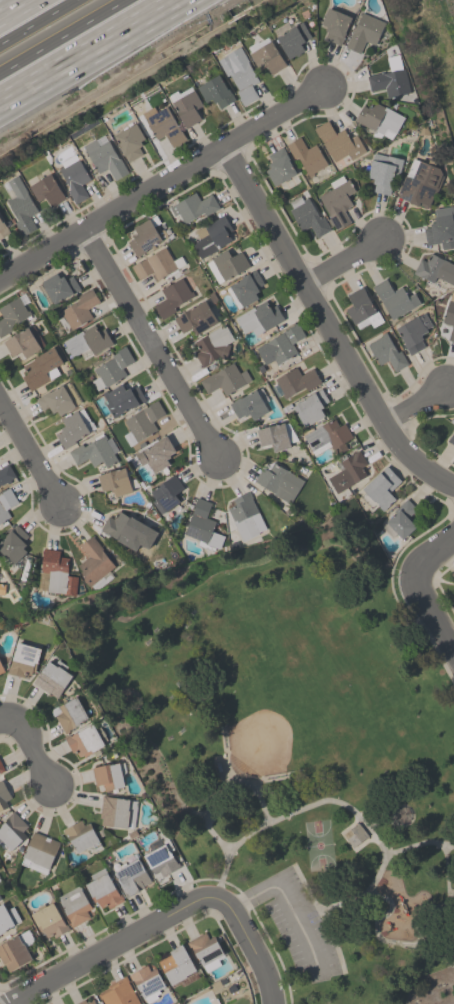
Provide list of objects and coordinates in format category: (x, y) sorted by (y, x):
road: (15, 8)
road: (42, 24)
building: (335, 24)
building: (364, 32)
road: (62, 36)
building: (293, 39)
road: (85, 52)
building: (267, 57)
building: (239, 74)
building: (390, 78)
building: (215, 91)
building: (187, 107)
building: (379, 119)
building: (163, 124)
building: (129, 141)
building: (338, 142)
building: (306, 155)
building: (103, 156)
building: (279, 166)
building: (382, 171)
building: (74, 177)
road: (163, 181)
building: (419, 183)
building: (46, 188)
building: (337, 201)
building: (19, 203)
building: (192, 206)
building: (306, 215)
building: (441, 228)
building: (3, 229)
building: (145, 236)
building: (212, 237)
road: (343, 258)
building: (154, 264)
building: (226, 265)
building: (435, 268)
building: (59, 287)
building: (246, 287)
building: (172, 297)
building: (394, 298)
building: (79, 308)
building: (361, 309)
building: (12, 313)
building: (450, 314)
building: (195, 318)
building: (258, 318)
road: (330, 325)
building: (413, 332)
building: (86, 342)
building: (21, 343)
building: (212, 345)
building: (279, 345)
road: (152, 347)
building: (386, 352)
building: (41, 368)
building: (111, 368)
building: (224, 379)
building: (295, 381)
building: (122, 398)
building: (57, 399)
road: (417, 401)
building: (250, 404)
building: (309, 407)
building: (142, 422)
building: (74, 428)
building: (275, 436)
building: (327, 436)
building: (451, 438)
building: (95, 451)
building: (156, 453)
road: (31, 458)
building: (348, 472)
building: (5, 473)
building: (114, 481)
building: (278, 481)
building: (379, 488)
building: (166, 493)
building: (6, 503)
building: (245, 516)
building: (400, 520)
building: (202, 525)
building: (128, 530)
building: (13, 543)
building: (94, 563)
building: (57, 572)
building: (452, 574)
building: (1, 588)
road: (421, 589)
building: (23, 659)
building: (1, 669)
building: (52, 678)
building: (68, 713)
road: (6, 717)
building: (84, 740)
road: (33, 753)
park: (292, 753)
building: (1, 768)
building: (108, 775)
building: (3, 795)
road: (323, 800)
building: (117, 811)
building: (11, 831)
building: (81, 836)
road: (347, 841)
building: (39, 852)
building: (160, 860)
building: (131, 877)
building: (102, 889)
building: (0, 898)
building: (0, 899)
road: (288, 903)
road: (339, 904)
building: (74, 905)
road: (326, 912)
road: (322, 916)
building: (7, 917)
building: (49, 920)
road: (250, 943)
road: (105, 949)
road: (396, 949)
building: (15, 950)
building: (206, 951)
building: (176, 964)
building: (147, 982)
building: (118, 993)
building: (86, 1002)

